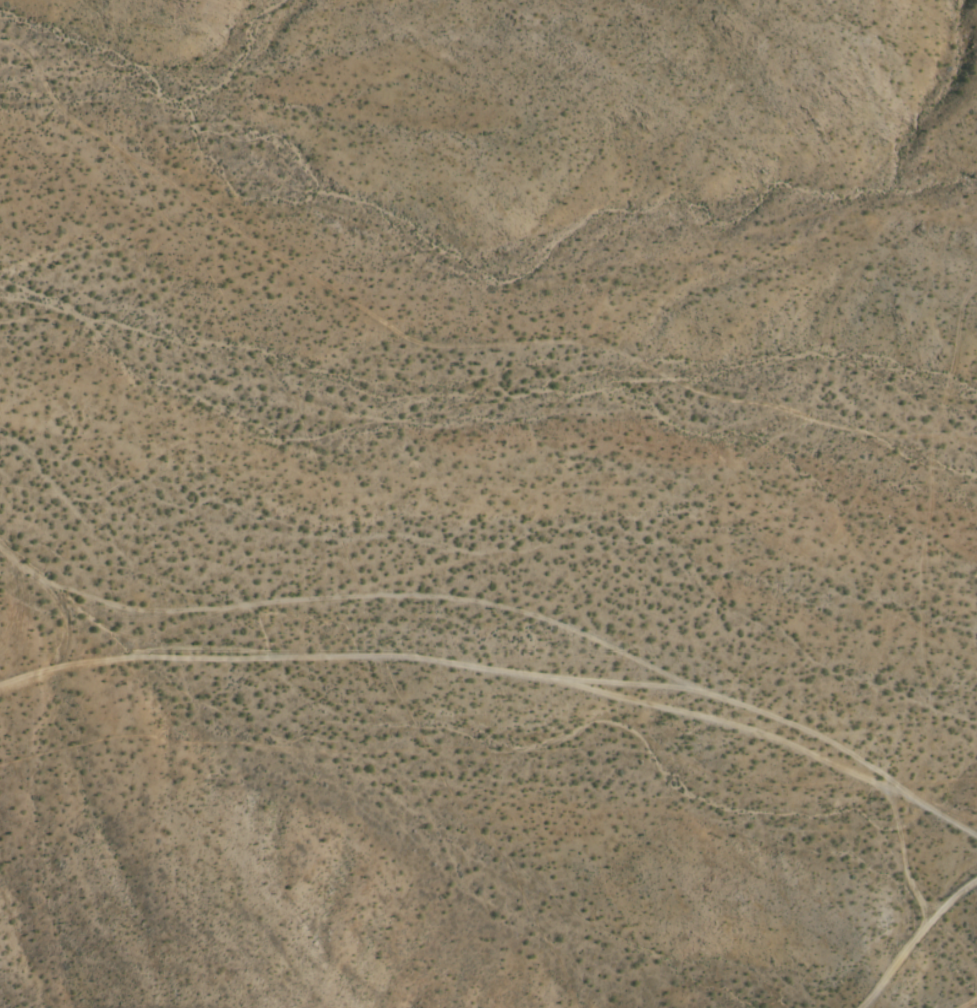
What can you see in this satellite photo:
road: (919, 943)

